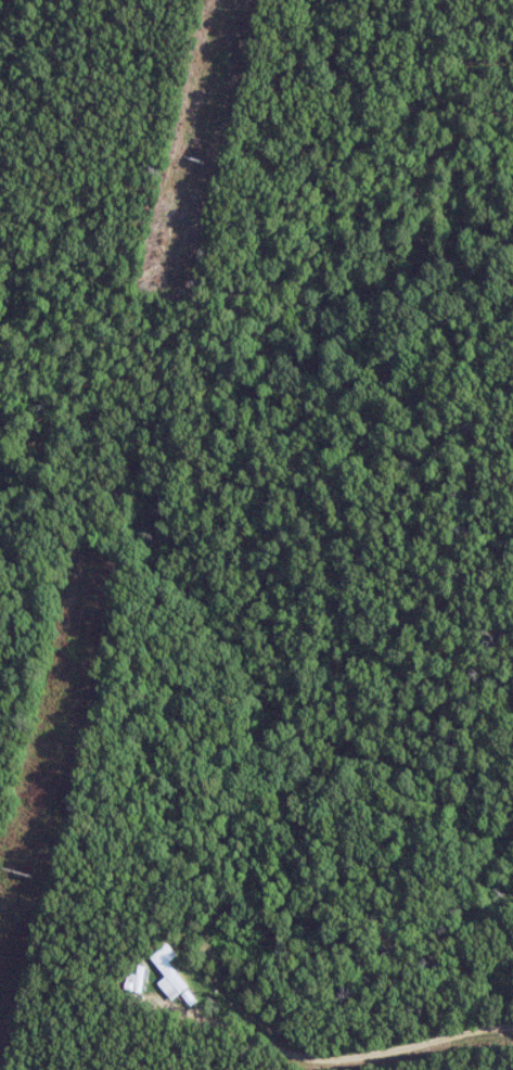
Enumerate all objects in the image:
power tower: (192, 157)
power tower: (18, 874)
building: (165, 970)
road: (374, 1052)

